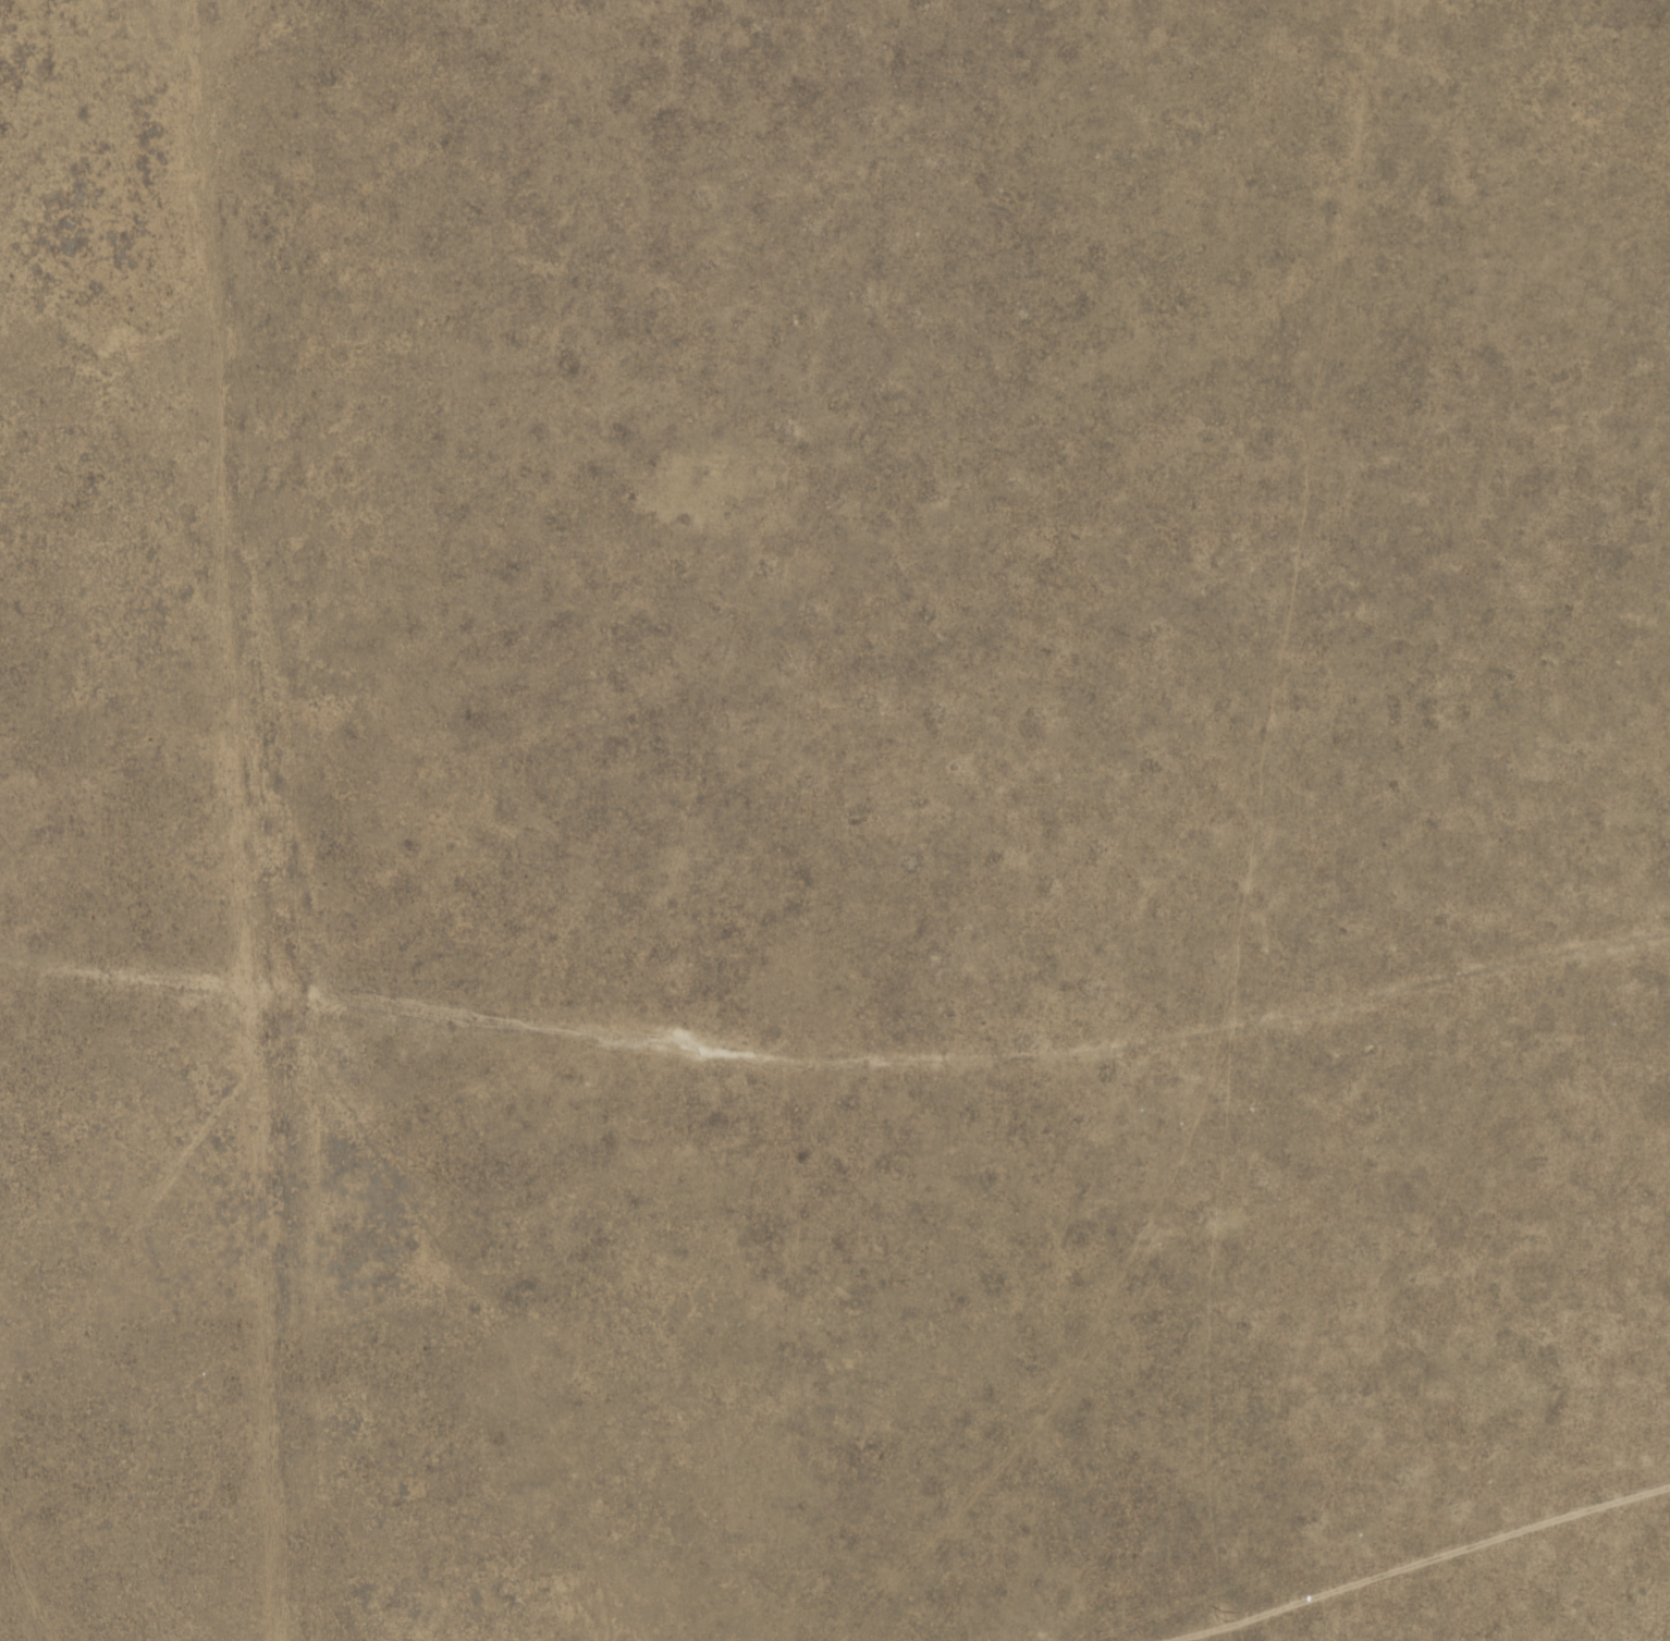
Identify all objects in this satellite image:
road: (1569, 1600)
power tower: (1223, 1617)
power substation: (3, 1627)
building: (1665, 1639)

